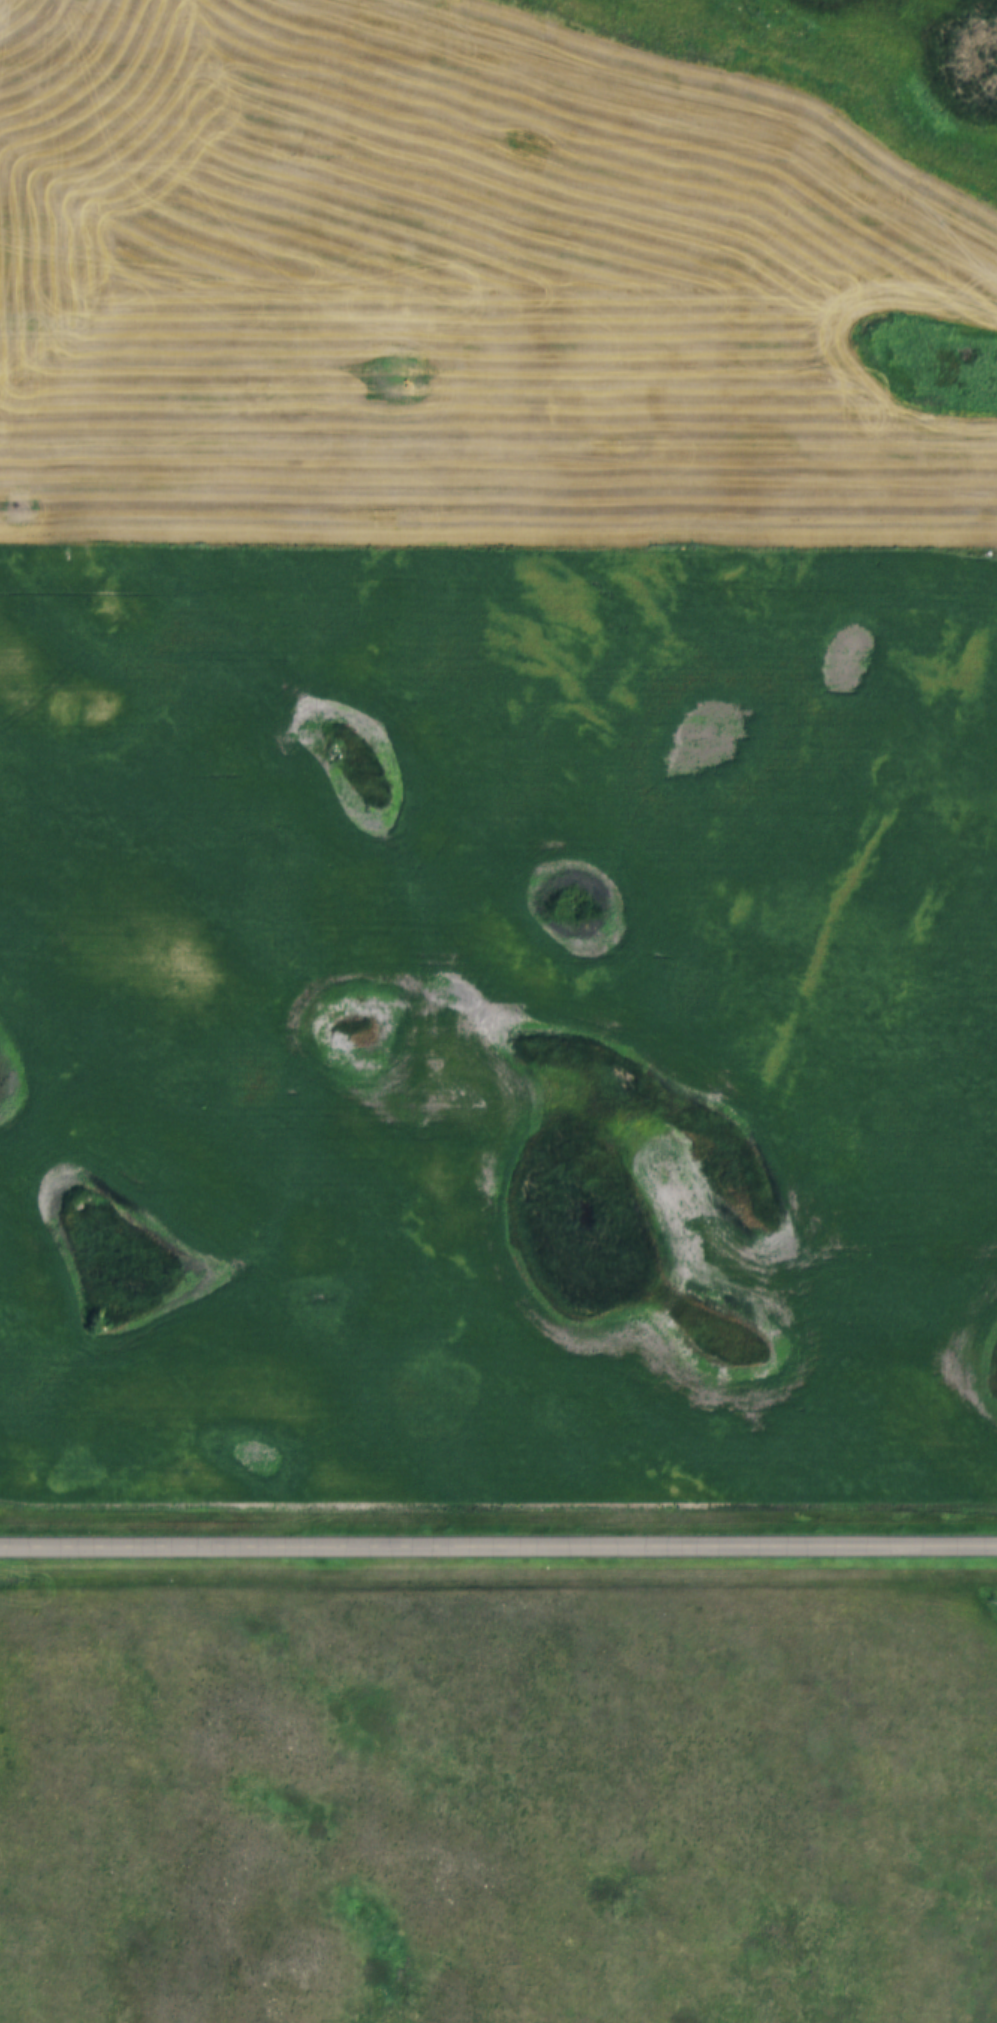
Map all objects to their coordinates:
road: (498, 1546)

